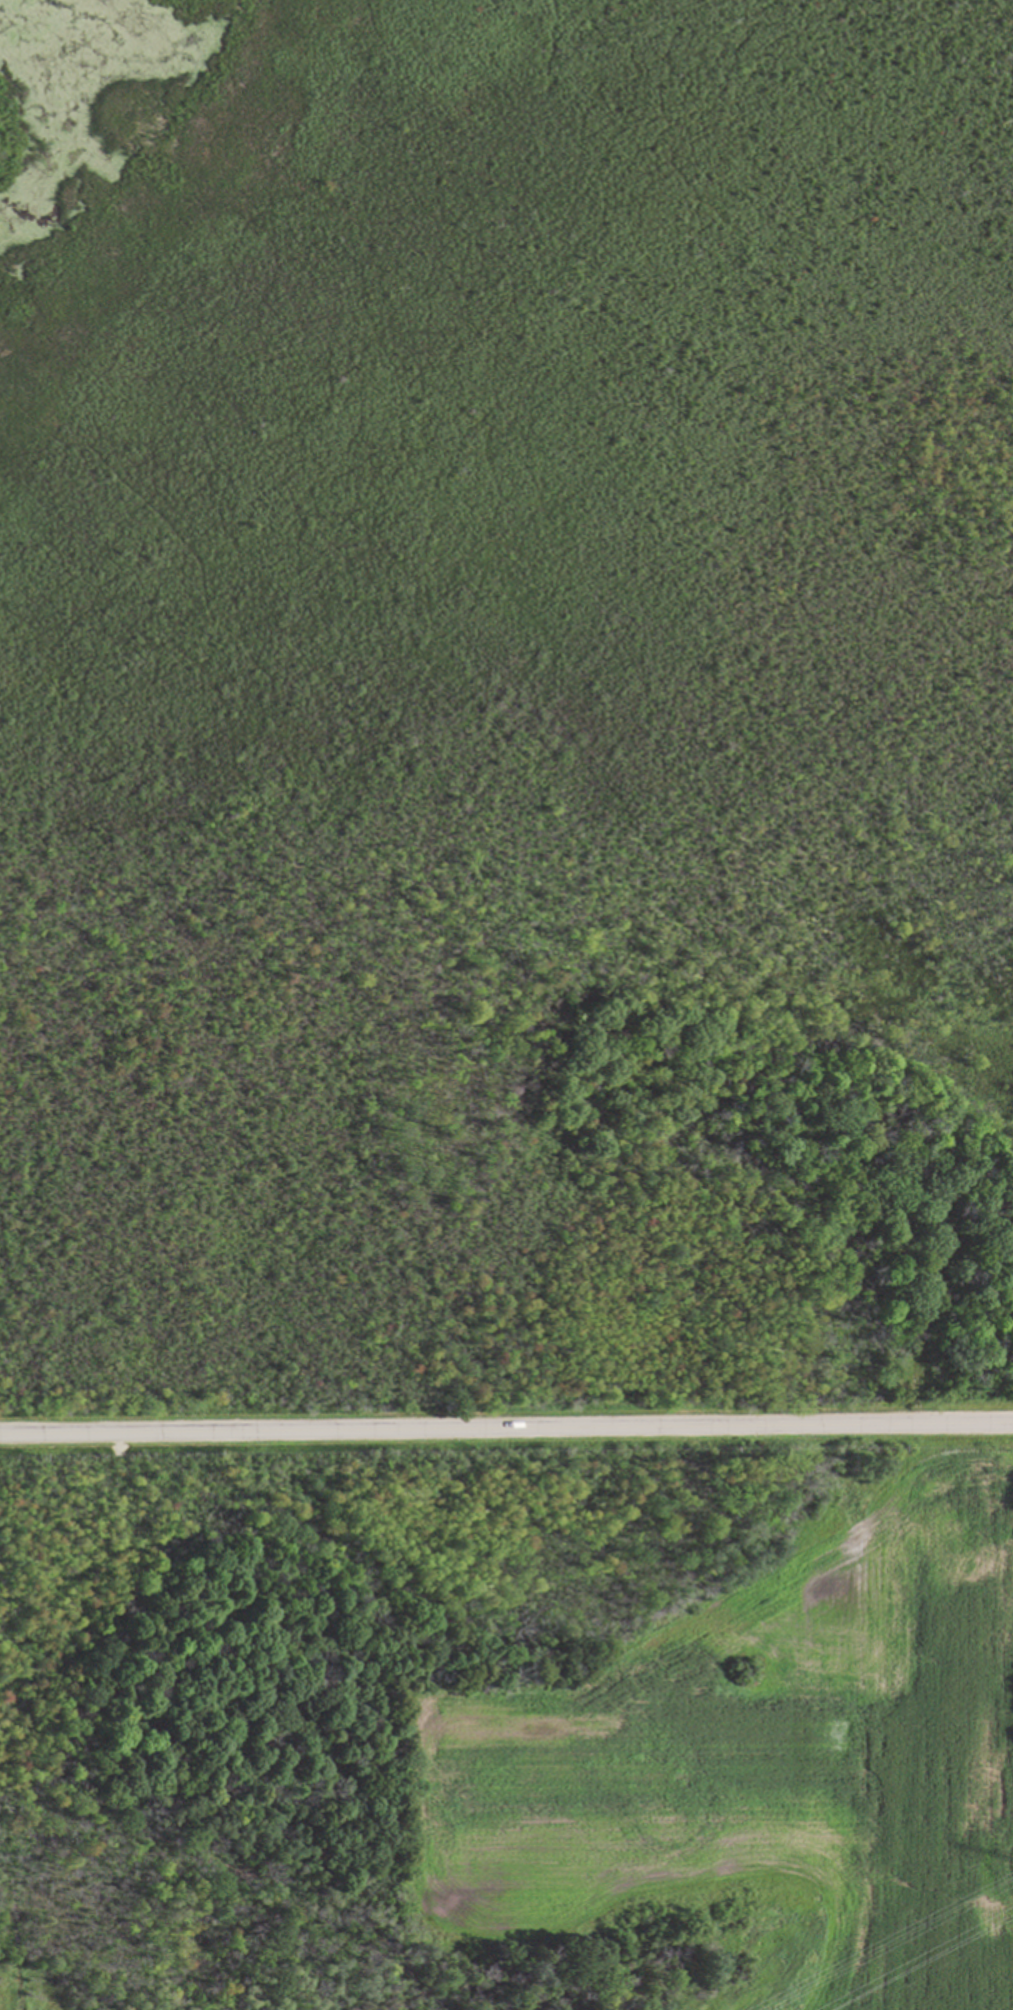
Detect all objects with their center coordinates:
road: (506, 1426)

